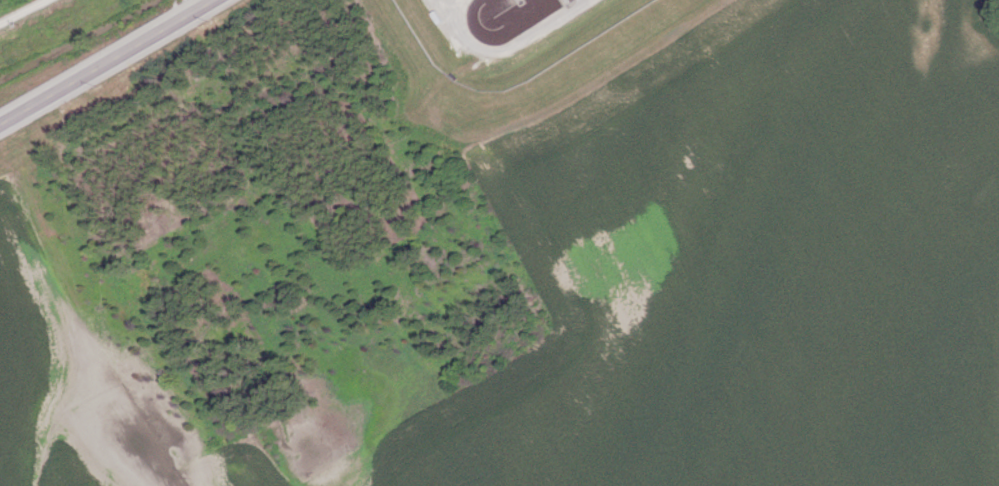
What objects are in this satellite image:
road: (23, 12)
road: (509, 48)
wastewater plant: (510, 54)
road: (108, 62)
road: (610, 79)
crop: (747, 264)
crop: (81, 396)

